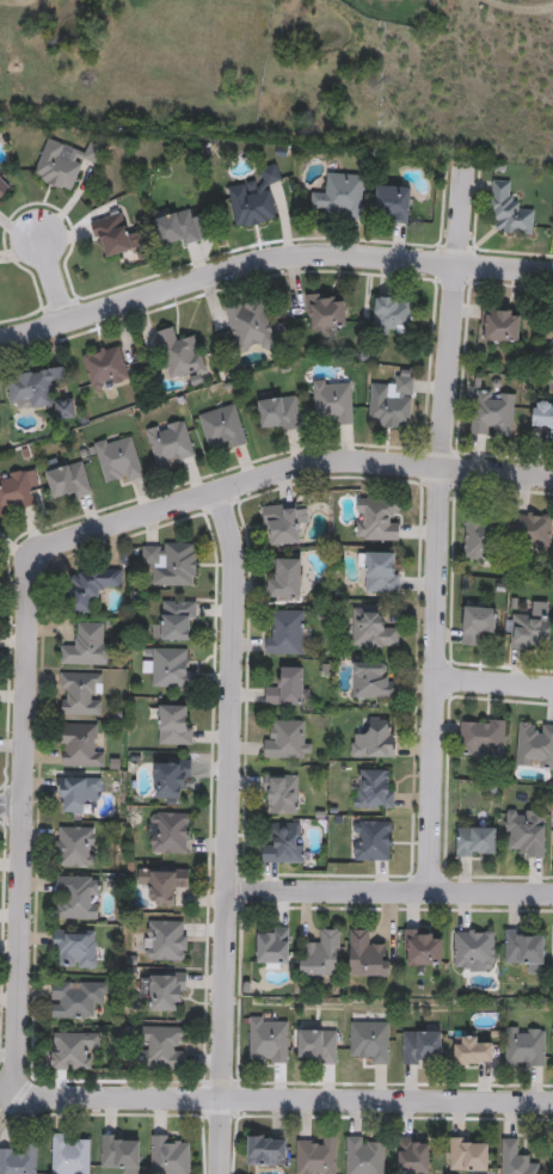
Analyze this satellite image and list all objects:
building: (63, 165)
building: (4, 188)
building: (339, 198)
building: (253, 202)
building: (392, 204)
building: (508, 211)
building: (176, 229)
building: (110, 236)
road: (270, 257)
road: (54, 275)
building: (324, 314)
building: (393, 318)
building: (498, 326)
building: (250, 328)
building: (552, 352)
building: (178, 356)
building: (104, 369)
building: (38, 393)
building: (332, 402)
building: (389, 405)
building: (491, 414)
building: (277, 416)
building: (542, 418)
building: (221, 429)
building: (170, 447)
building: (117, 461)
building: (67, 484)
building: (14, 492)
building: (375, 521)
road: (438, 523)
building: (283, 525)
building: (530, 533)
building: (478, 539)
road: (36, 558)
building: (170, 565)
building: (377, 572)
building: (284, 582)
building: (90, 589)
building: (176, 623)
building: (477, 626)
building: (370, 631)
building: (528, 633)
building: (283, 635)
building: (85, 646)
building: (168, 669)
building: (370, 683)
road: (493, 683)
building: (285, 690)
building: (79, 695)
building: (173, 726)
building: (285, 742)
building: (373, 742)
building: (481, 742)
building: (78, 748)
building: (534, 748)
building: (170, 780)
building: (371, 792)
building: (76, 795)
building: (278, 795)
road: (10, 800)
road: (227, 830)
building: (524, 834)
building: (168, 835)
building: (371, 842)
building: (475, 843)
building: (283, 846)
building: (74, 848)
building: (164, 887)
road: (389, 889)
building: (76, 899)
building: (165, 942)
building: (271, 949)
building: (73, 951)
building: (419, 951)
building: (472, 952)
building: (522, 952)
building: (319, 955)
building: (367, 957)
building: (165, 991)
building: (74, 1001)
building: (268, 1041)
building: (368, 1043)
building: (317, 1047)
building: (418, 1049)
building: (523, 1049)
building: (160, 1050)
building: (69, 1051)
building: (469, 1053)
road: (287, 1096)
building: (264, 1153)
building: (119, 1154)
building: (69, 1155)
building: (168, 1156)
building: (314, 1156)
building: (364, 1156)
building: (412, 1156)
building: (467, 1156)
building: (18, 1161)
building: (514, 1161)

